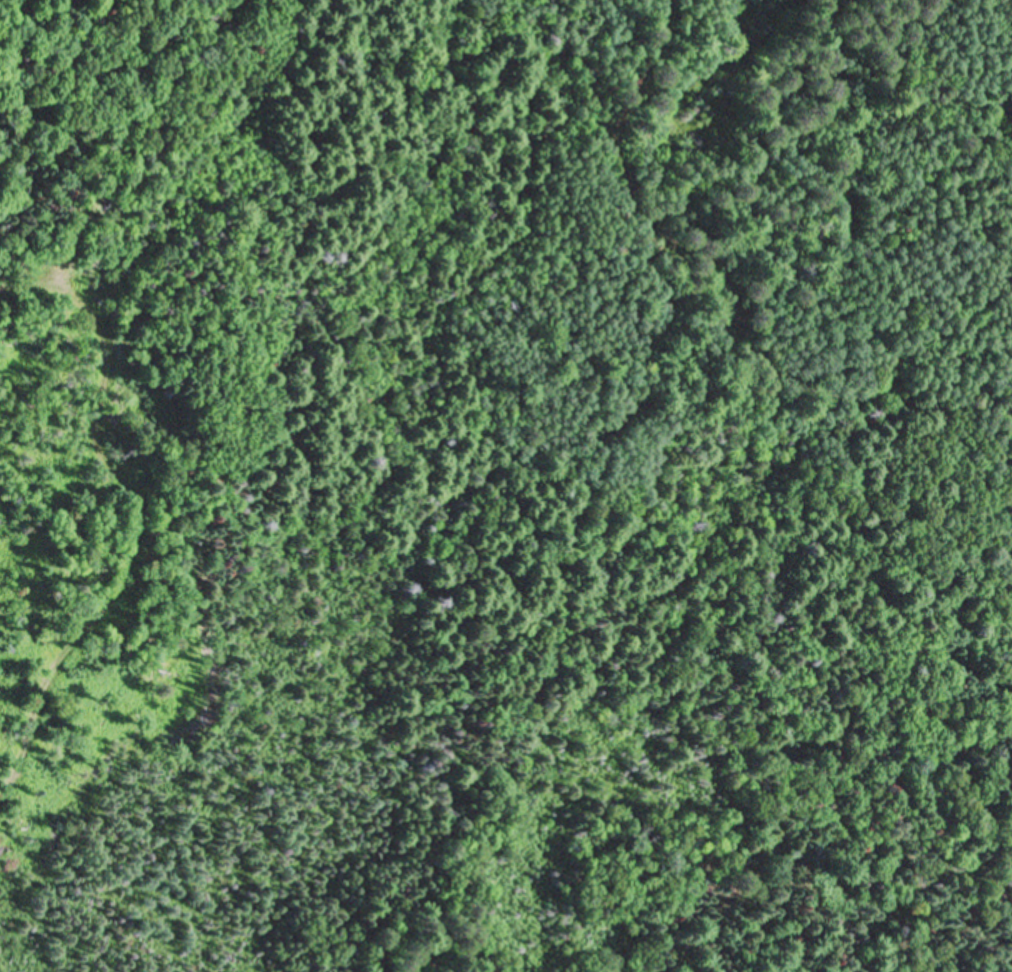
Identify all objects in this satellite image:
road: (944, 917)

